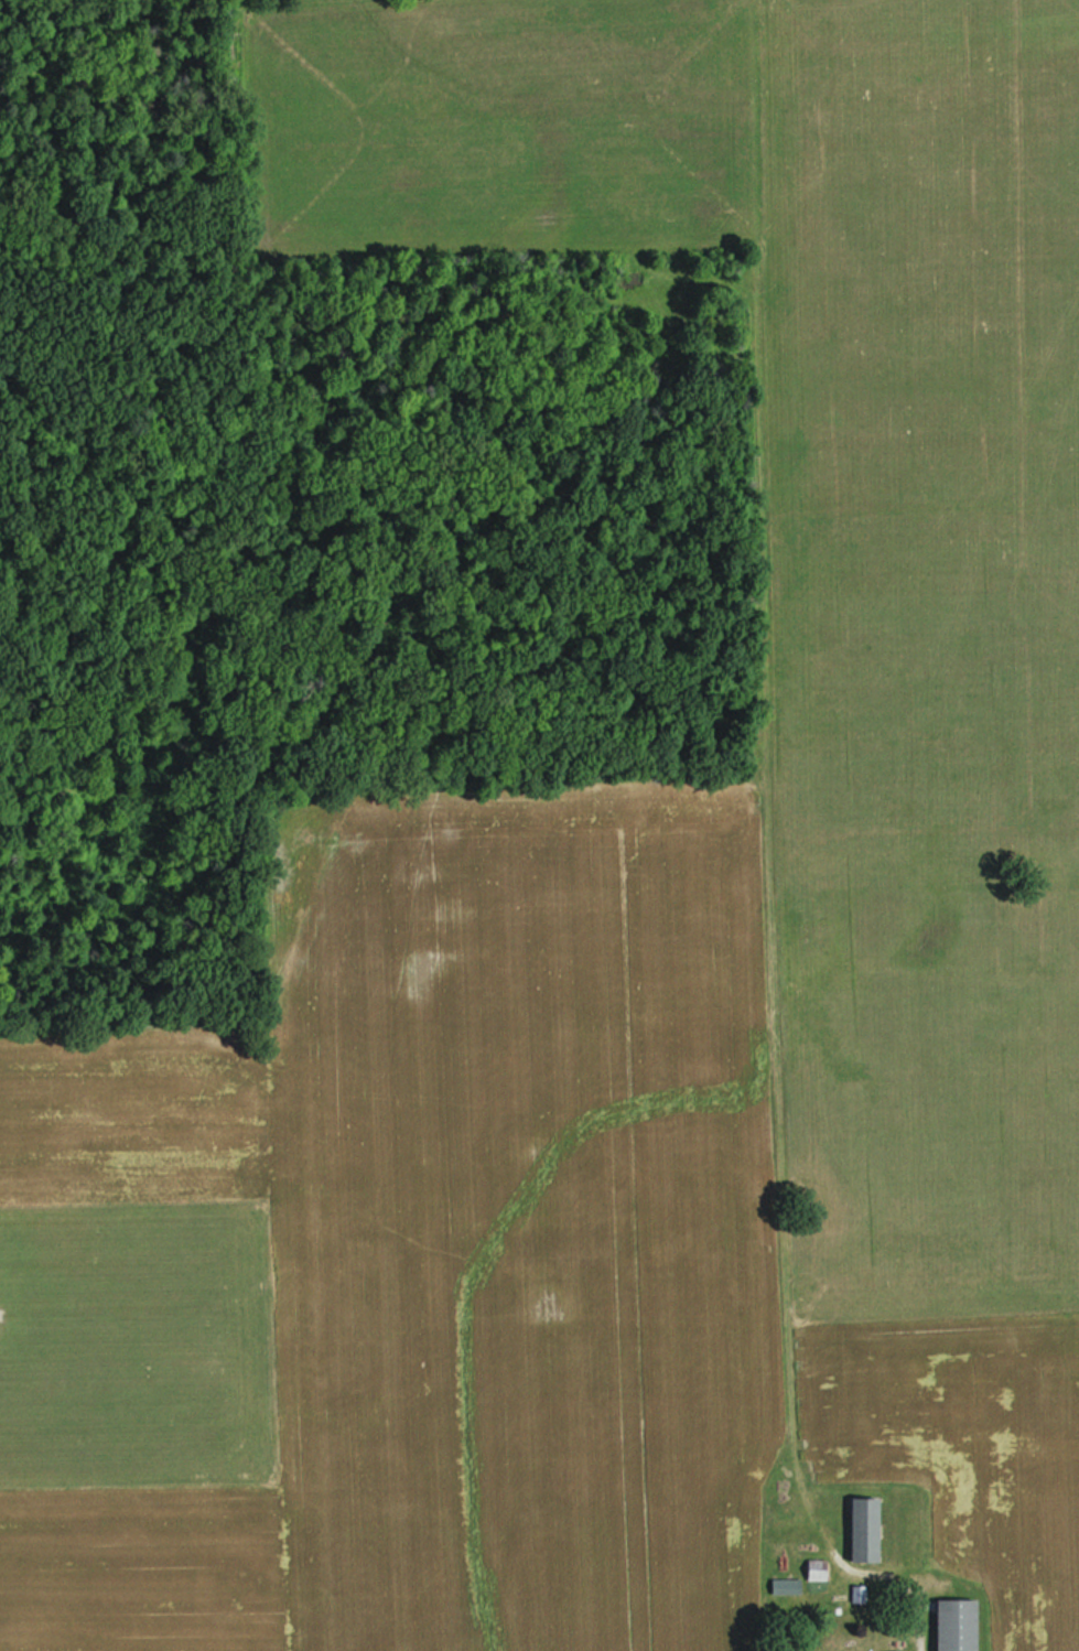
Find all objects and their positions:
building: (867, 1528)
building: (820, 1574)
building: (788, 1586)
building: (961, 1625)
road: (920, 1631)

